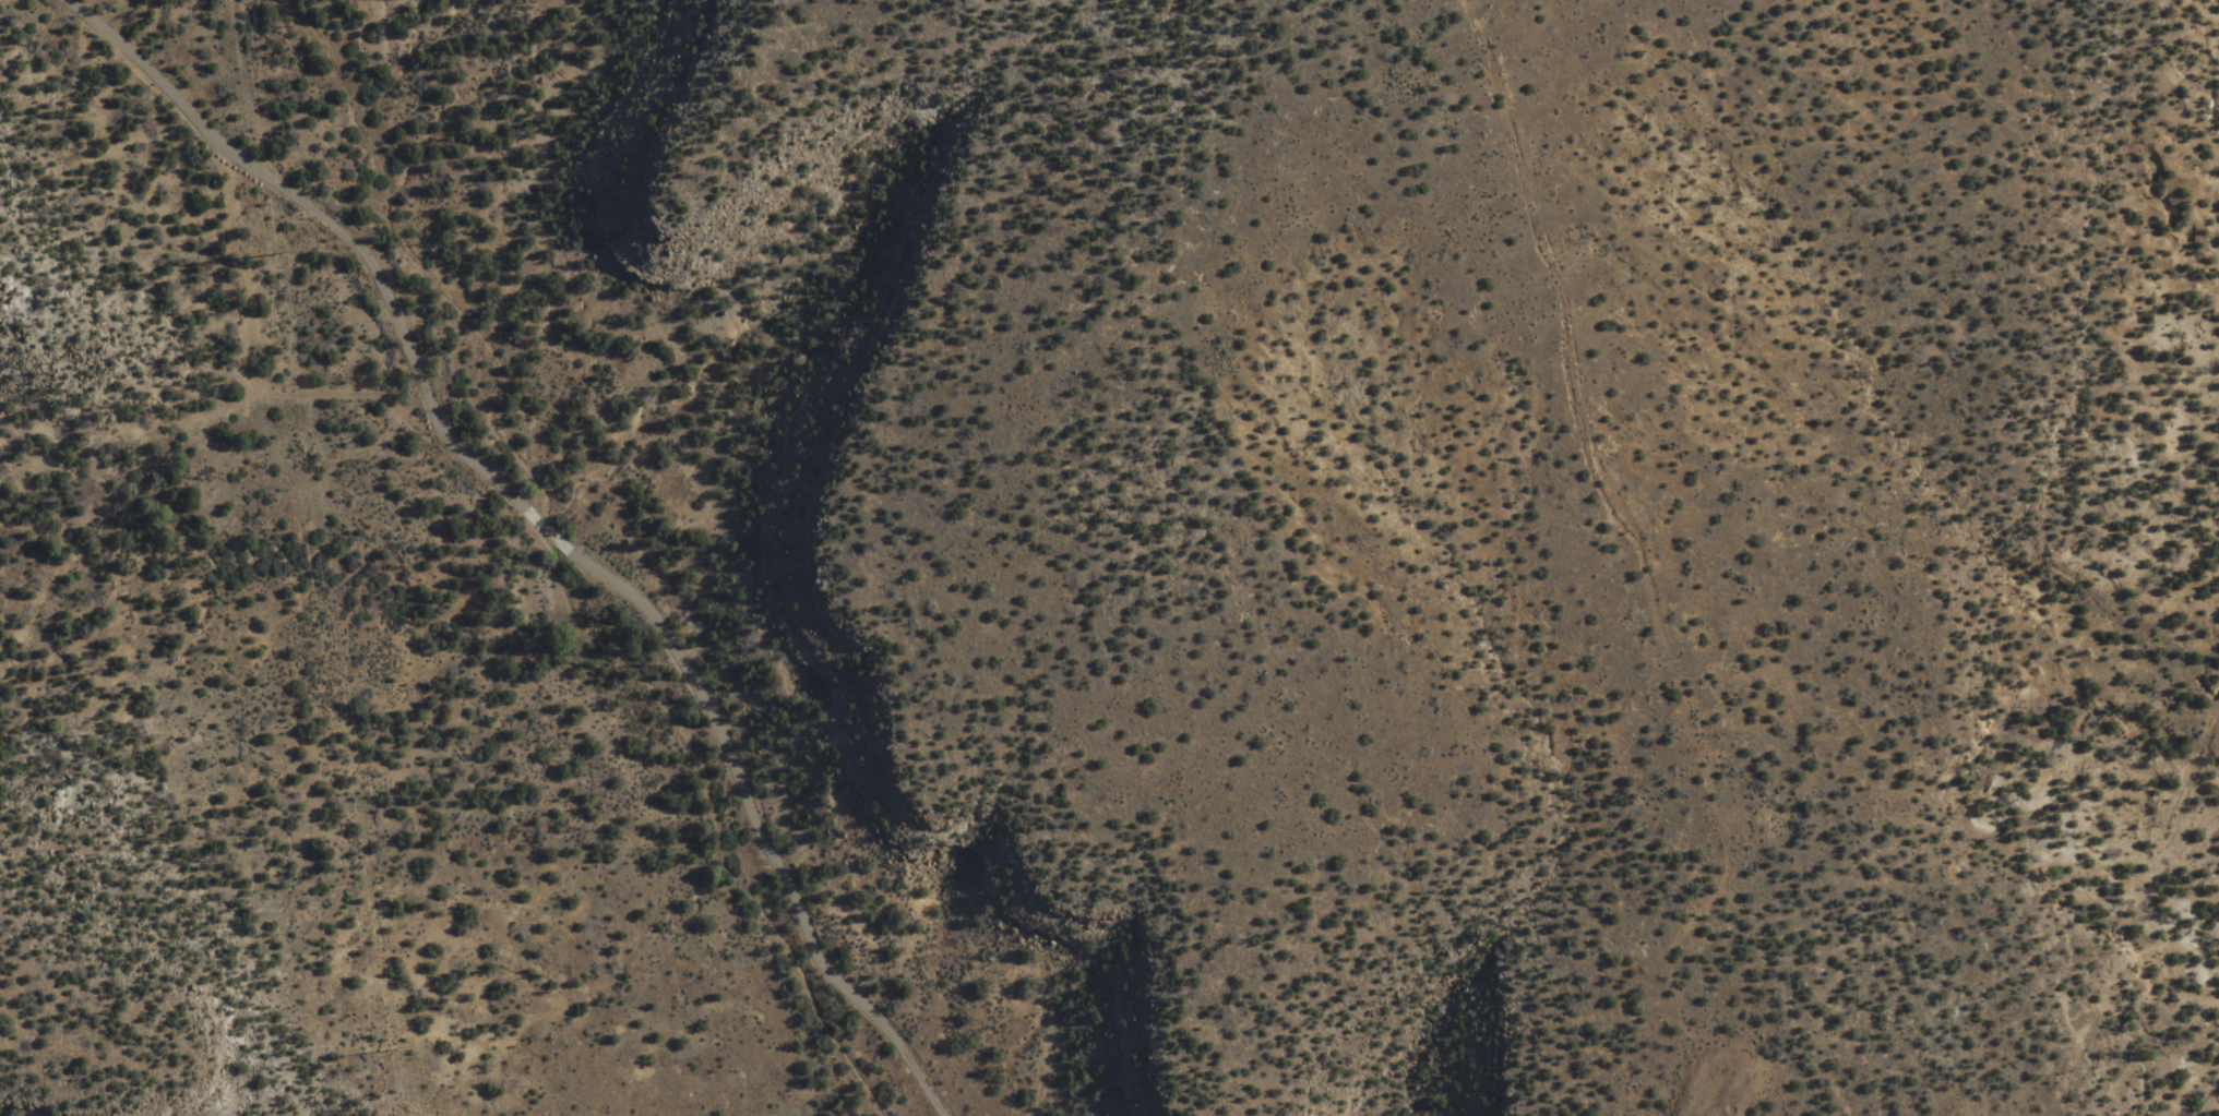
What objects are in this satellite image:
road: (517, 501)

